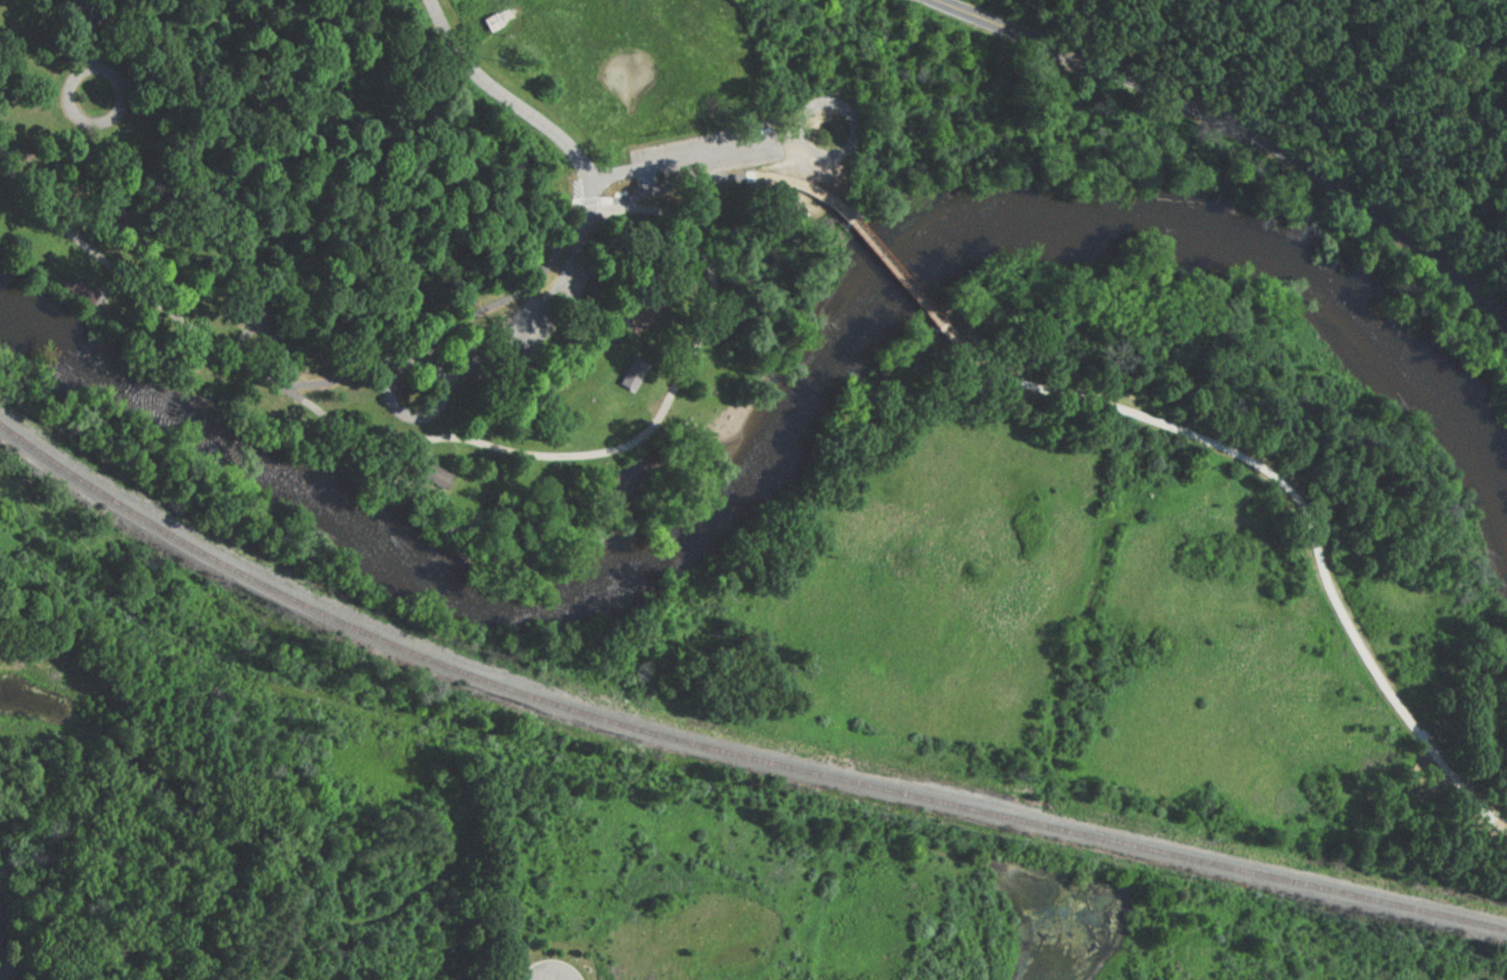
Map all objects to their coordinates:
road: (533, 14)
parking lot: (86, 18)
building: (491, 21)
parking lot: (547, 25)
road: (92, 49)
road: (333, 118)
road: (1244, 125)
parking lot: (705, 154)
road: (708, 155)
road: (587, 179)
road: (727, 179)
building: (698, 196)
building: (715, 217)
road: (899, 273)
building: (80, 288)
road: (107, 288)
parking lot: (537, 301)
building: (260, 311)
road: (244, 337)
road: (442, 349)
road: (416, 359)
park: (824, 368)
building: (635, 373)
road: (283, 389)
river: (784, 440)
road: (618, 448)
road: (422, 453)
building: (439, 476)
road: (1297, 496)
railway: (726, 752)
building: (547, 970)

